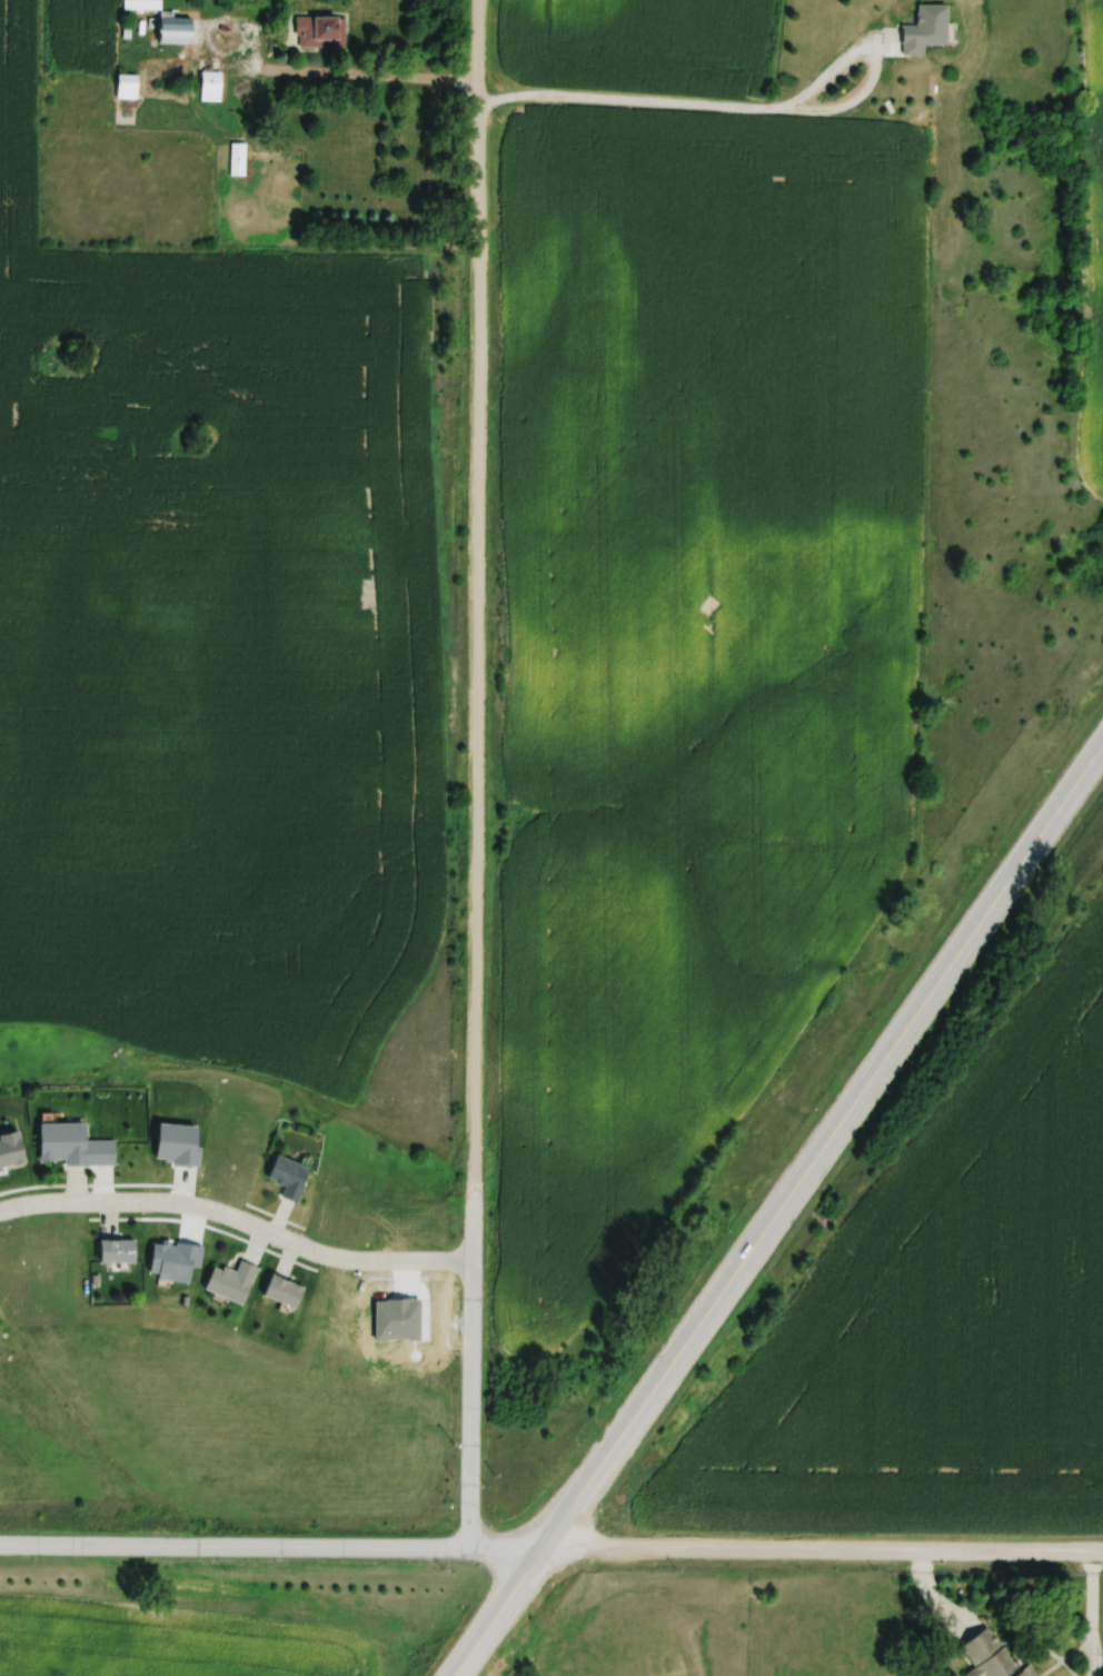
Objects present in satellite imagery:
building: (132, 3)
building: (926, 29)
building: (176, 30)
building: (321, 32)
road: (337, 77)
building: (128, 87)
building: (211, 87)
road: (747, 113)
building: (239, 159)
road: (469, 773)
building: (64, 1146)
building: (288, 1174)
road: (778, 1210)
road: (239, 1219)
building: (118, 1252)
building: (231, 1280)
building: (284, 1290)
building: (396, 1318)
road: (271, 1547)
road: (823, 1553)
building: (992, 1657)

